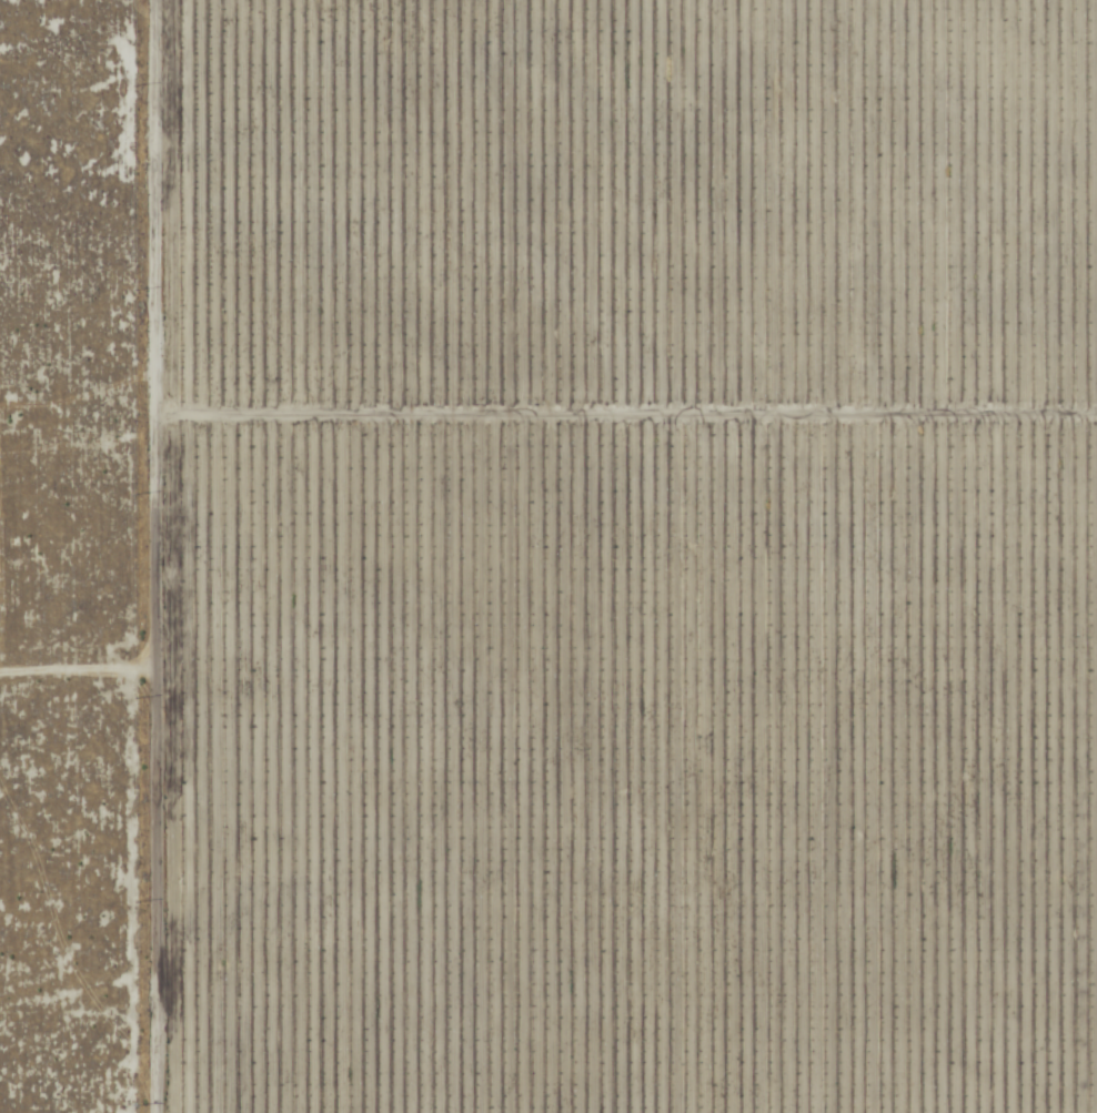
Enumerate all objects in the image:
road: (142, 556)

